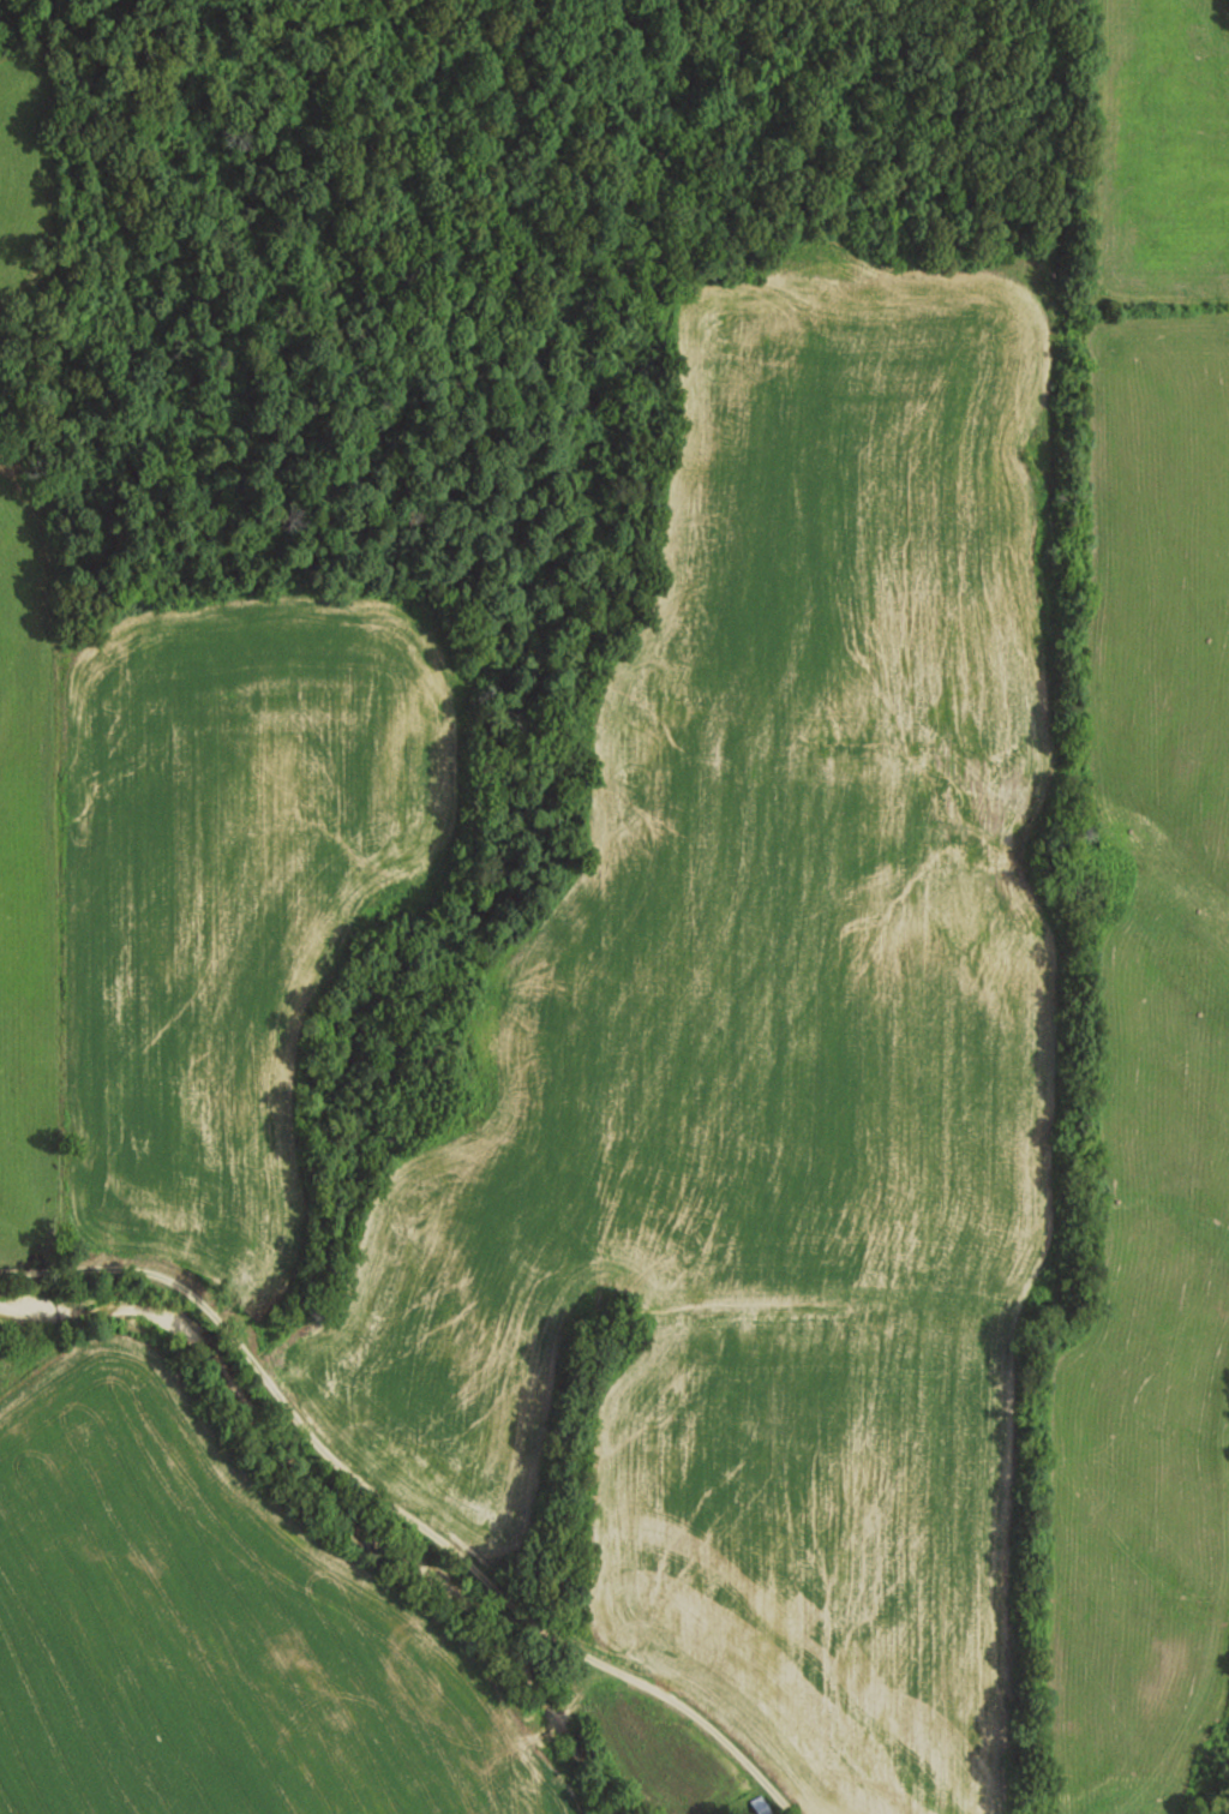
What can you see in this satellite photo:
road: (392, 1509)

